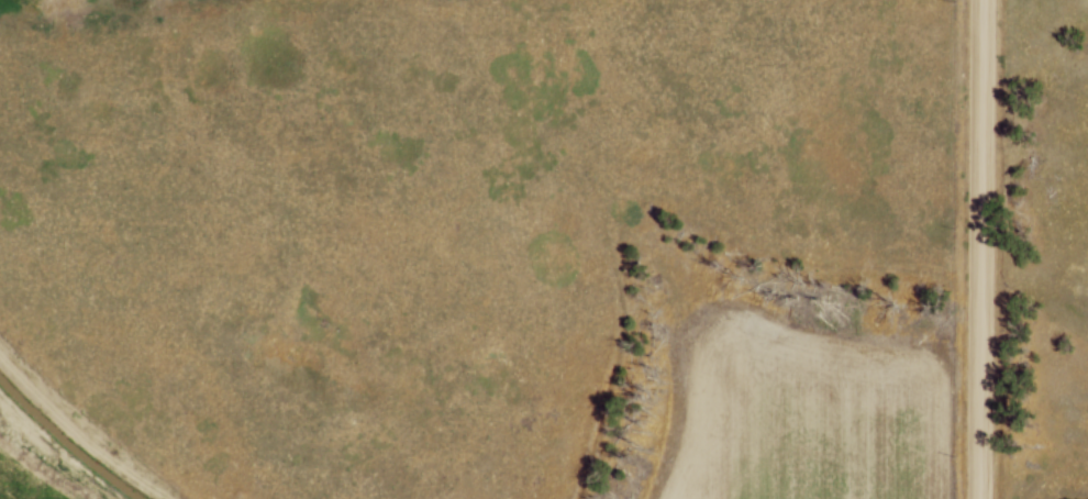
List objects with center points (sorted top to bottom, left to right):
road: (968, 249)
crop: (791, 417)

